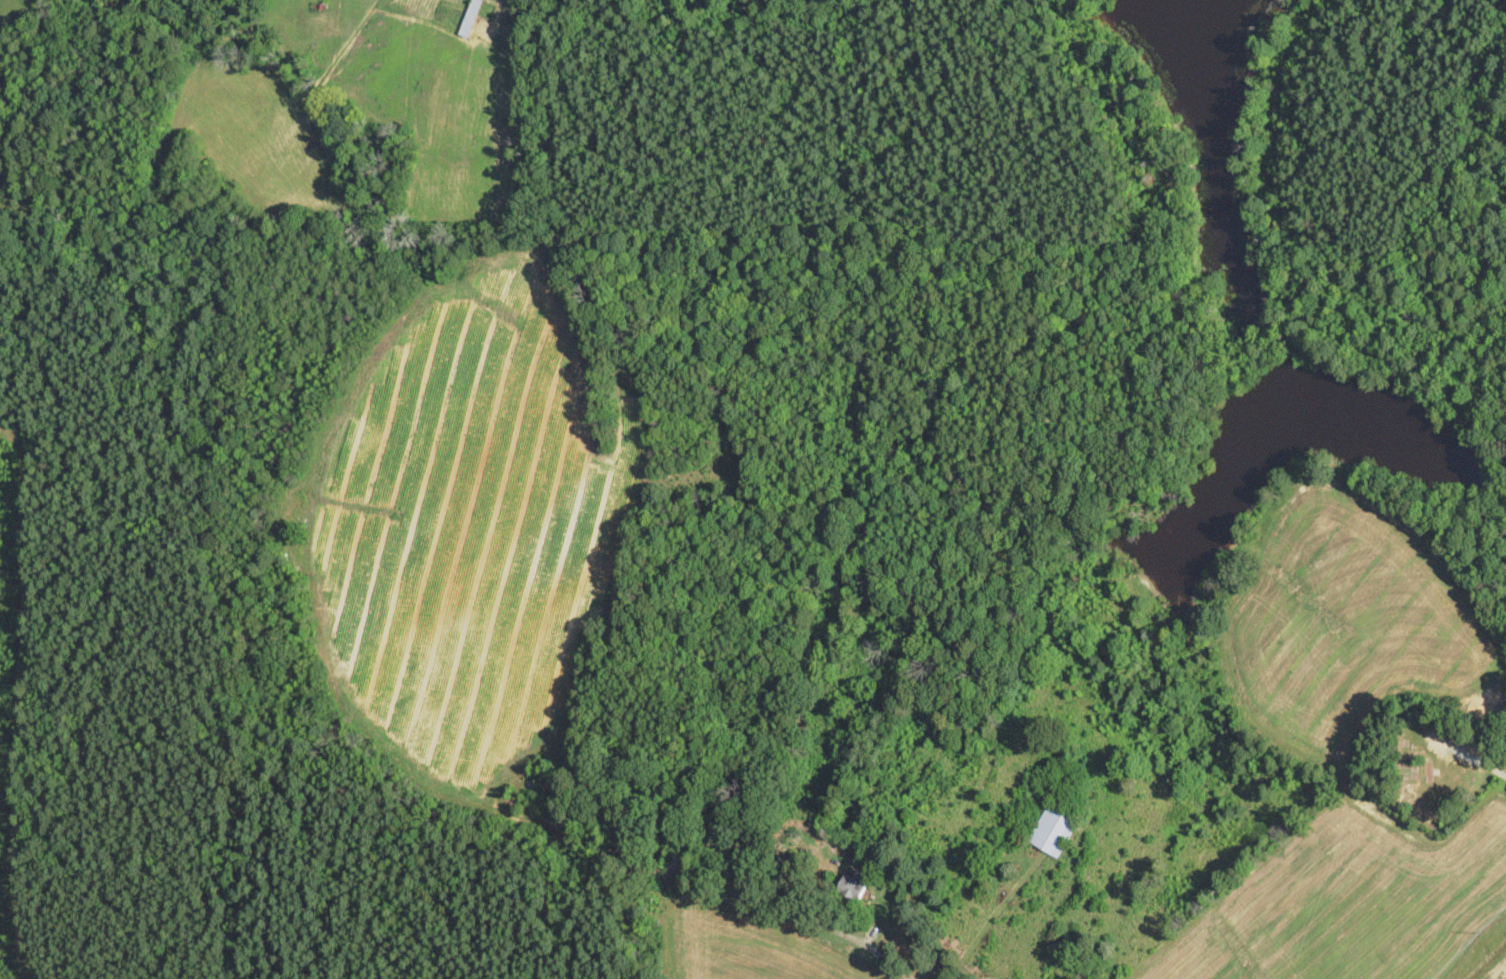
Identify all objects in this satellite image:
building: (472, 18)
building: (1052, 833)
building: (851, 889)

